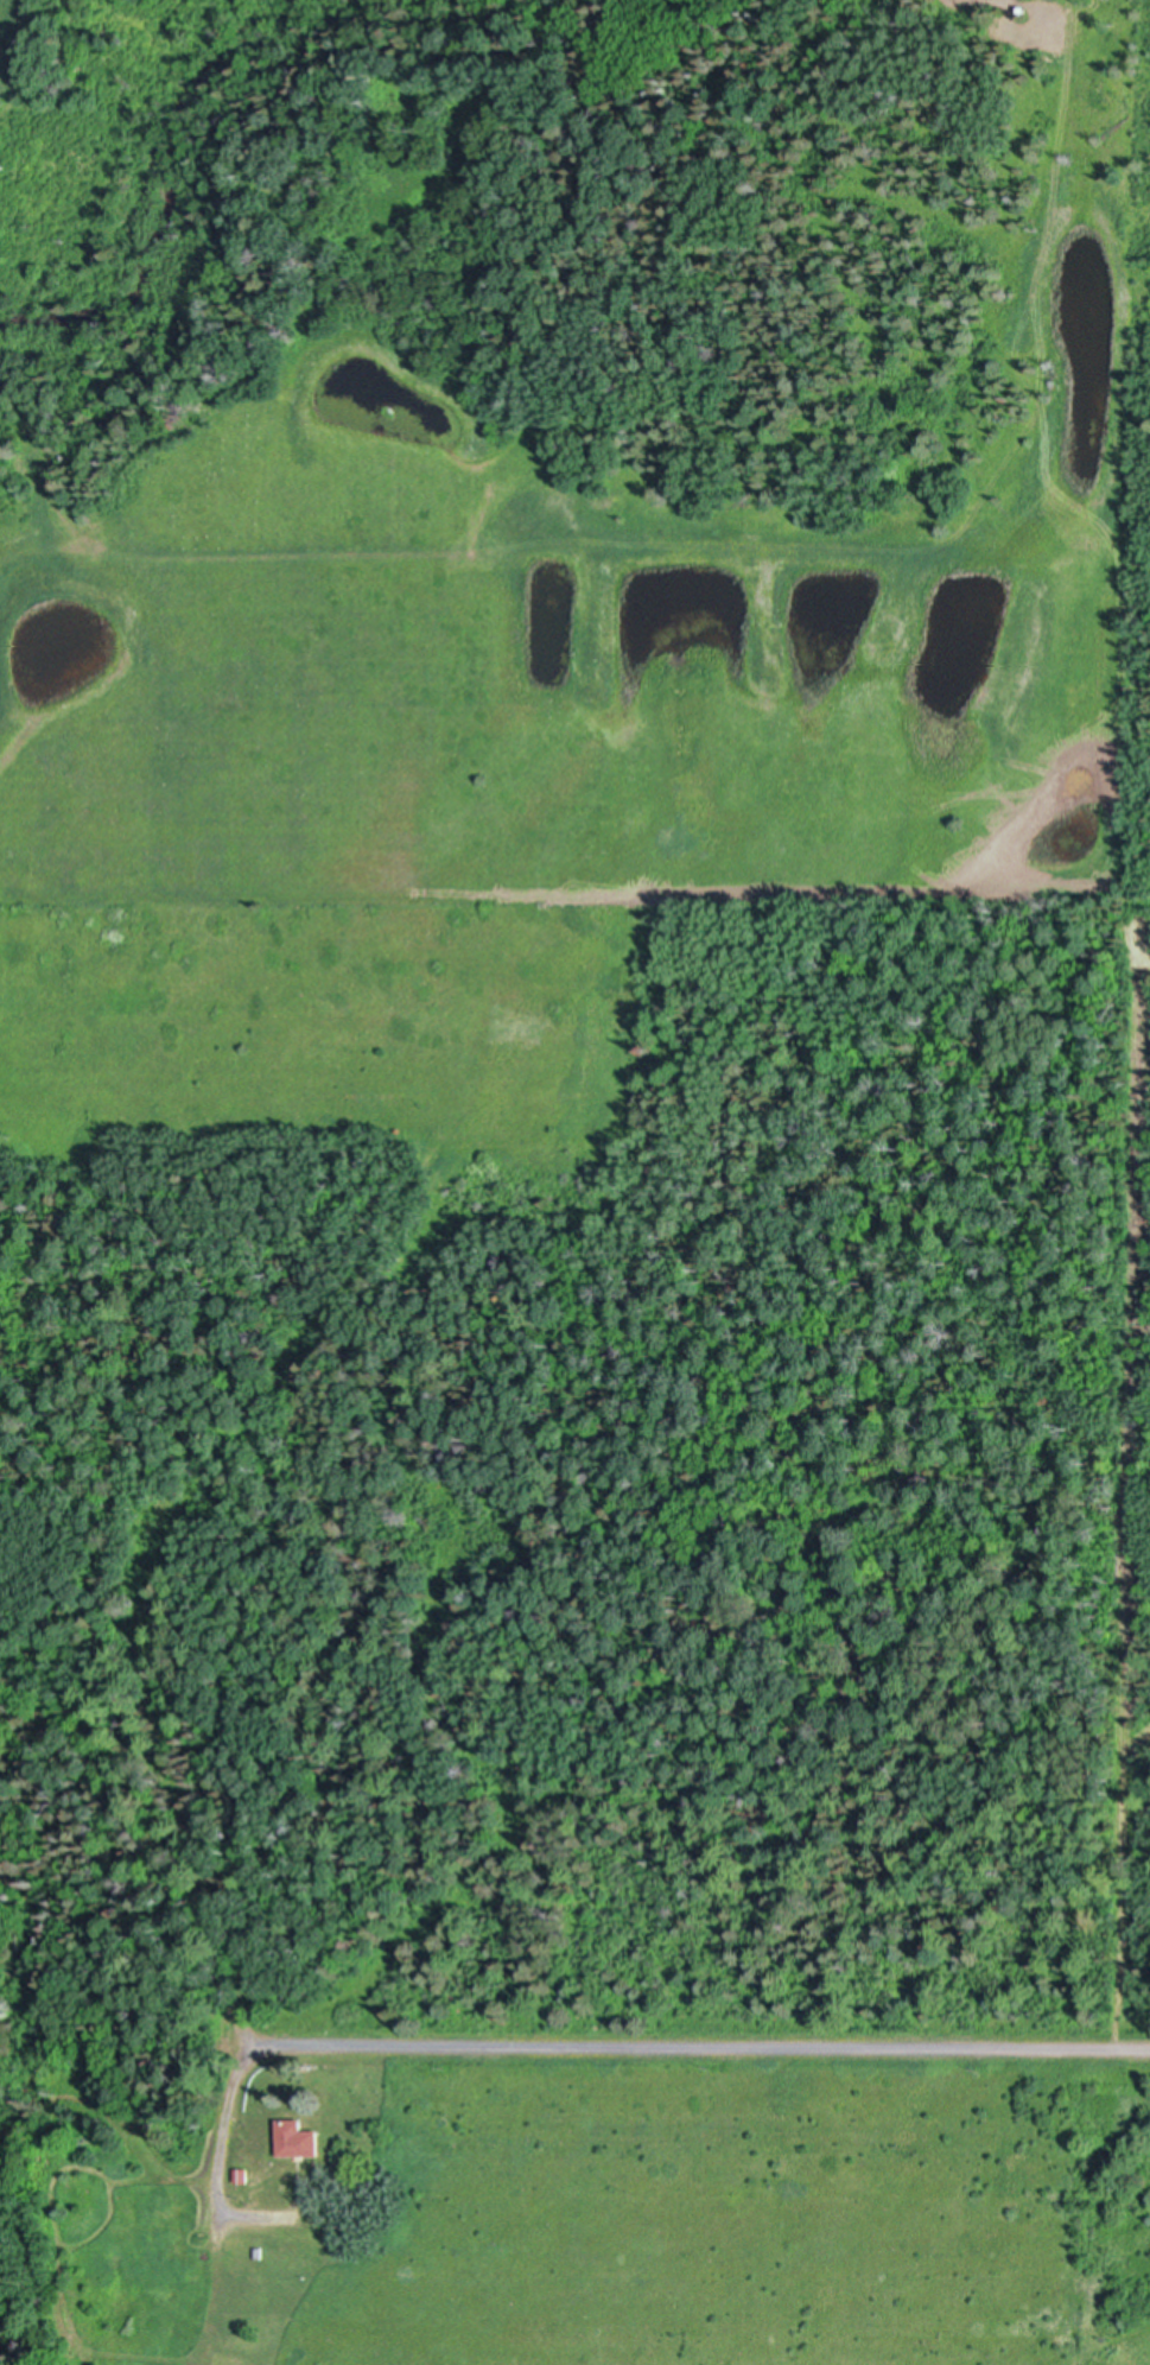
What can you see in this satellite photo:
river: (183, 203)
river: (68, 2024)
road: (700, 2049)
building: (299, 2139)
building: (244, 2176)
river: (20, 2340)

